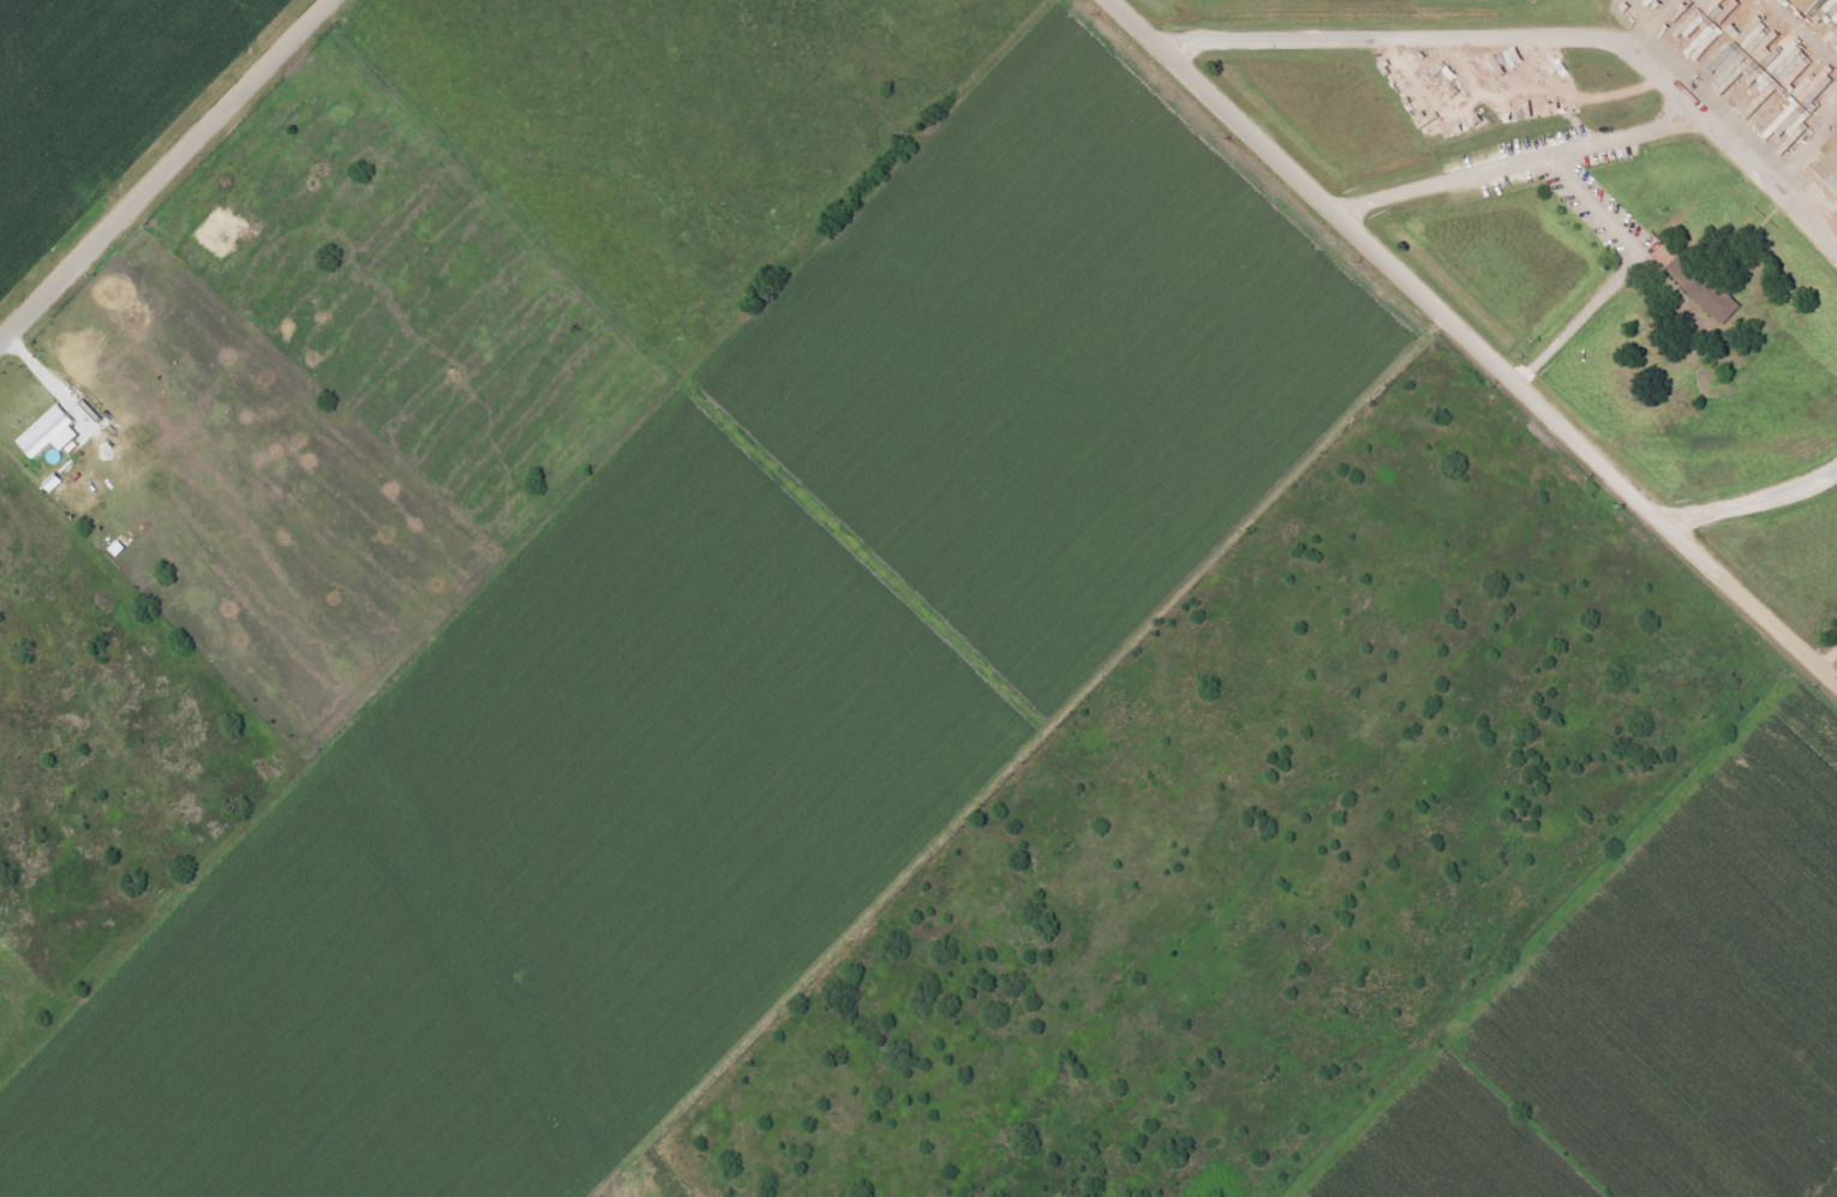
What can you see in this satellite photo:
building: (1813, 4)
road: (1808, 25)
road: (1447, 38)
road: (1646, 48)
building: (1757, 60)
road: (1737, 118)
road: (1611, 143)
building: (1833, 149)
building: (1835, 169)
road: (168, 174)
parking lot: (1563, 180)
road: (1623, 275)
building: (1710, 286)
road: (1473, 339)
crop: (1055, 364)
building: (52, 432)
road: (1757, 503)
road: (1832, 664)
crop: (544, 864)
crop: (1653, 1013)

